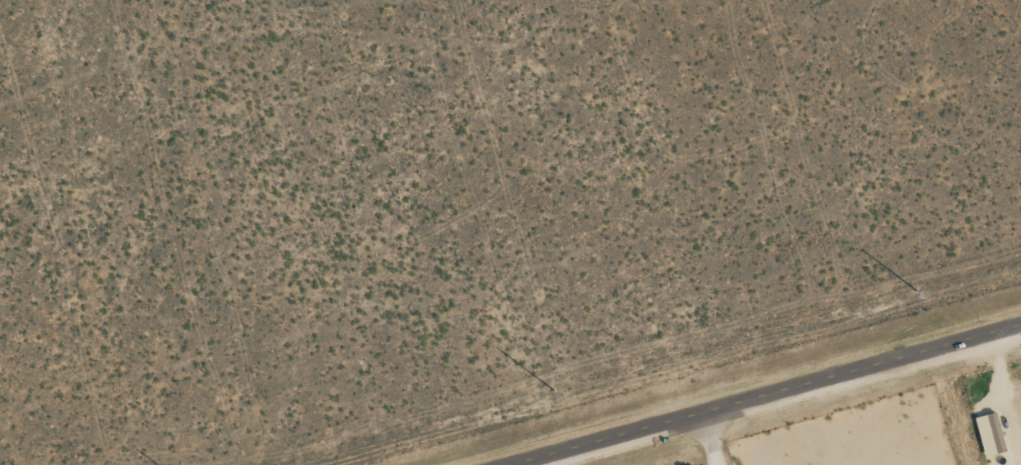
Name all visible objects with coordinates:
power tower: (917, 289)
power tower: (553, 390)
road: (768, 395)
road: (707, 439)

